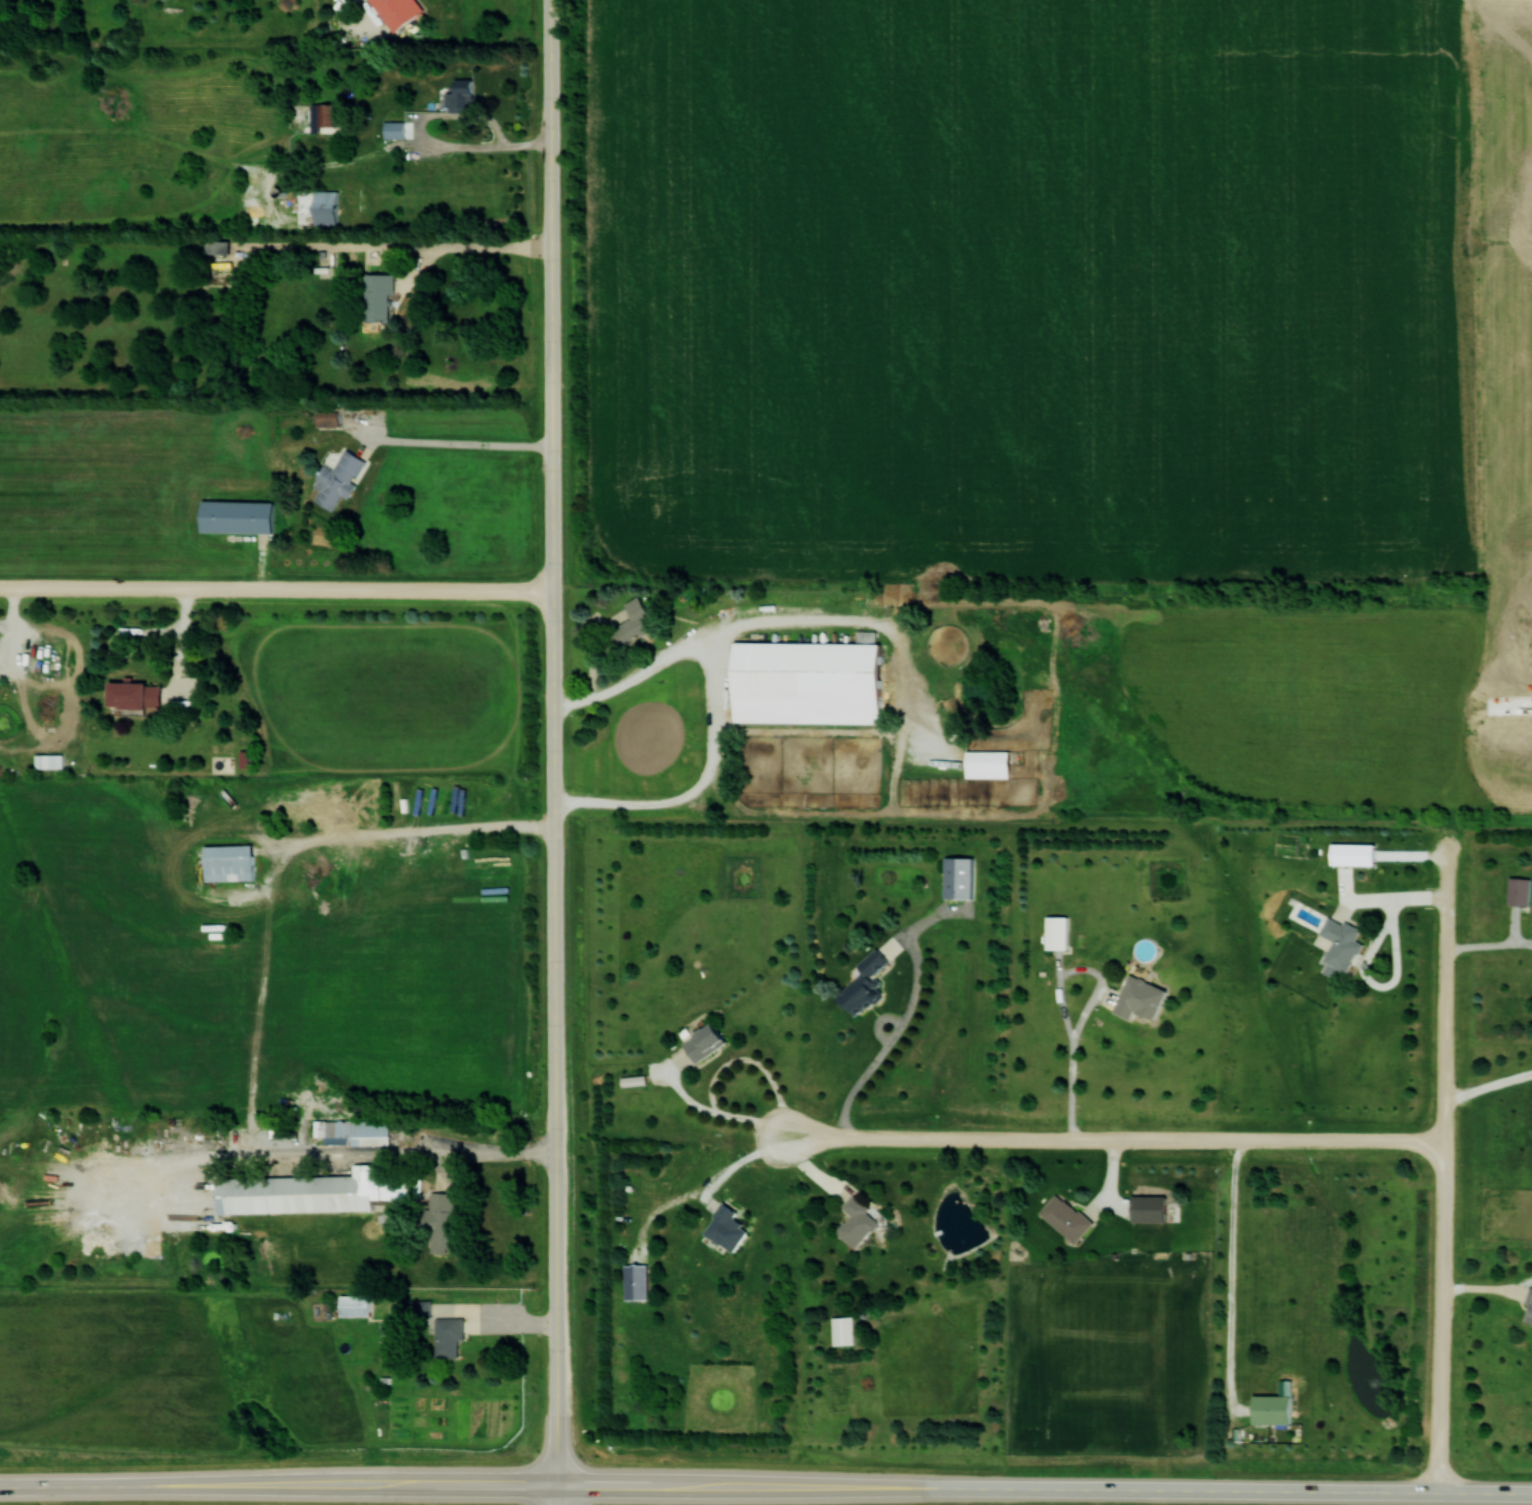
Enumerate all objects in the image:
building: (398, 11)
building: (461, 98)
building: (324, 117)
building: (395, 129)
road: (429, 139)
building: (318, 205)
building: (218, 246)
road: (471, 247)
building: (379, 296)
building: (327, 418)
road: (460, 443)
building: (338, 479)
building: (237, 516)
road: (276, 587)
building: (634, 622)
road: (13, 625)
building: (809, 681)
building: (135, 694)
road: (1512, 709)
road: (553, 742)
building: (244, 758)
building: (50, 761)
building: (988, 763)
park: (1503, 816)
road: (412, 831)
building: (1353, 853)
building: (229, 862)
building: (959, 877)
building: (1519, 891)
building: (1057, 932)
road: (1489, 944)
building: (1340, 946)
road: (1366, 959)
building: (864, 984)
building: (1140, 998)
road: (1061, 1000)
road: (892, 1040)
building: (705, 1042)
road: (723, 1066)
road: (1488, 1084)
building: (353, 1131)
road: (1112, 1139)
road: (490, 1153)
road: (1444, 1159)
building: (310, 1192)
building: (1149, 1208)
building: (1067, 1217)
building: (442, 1221)
building: (857, 1222)
building: (727, 1228)
road: (1232, 1272)
building: (636, 1281)
building: (355, 1305)
building: (1529, 1305)
building: (421, 1309)
road: (504, 1312)
building: (844, 1330)
building: (448, 1336)
building: (1274, 1405)
road: (279, 1486)
road: (1045, 1489)
road: (559, 1495)

